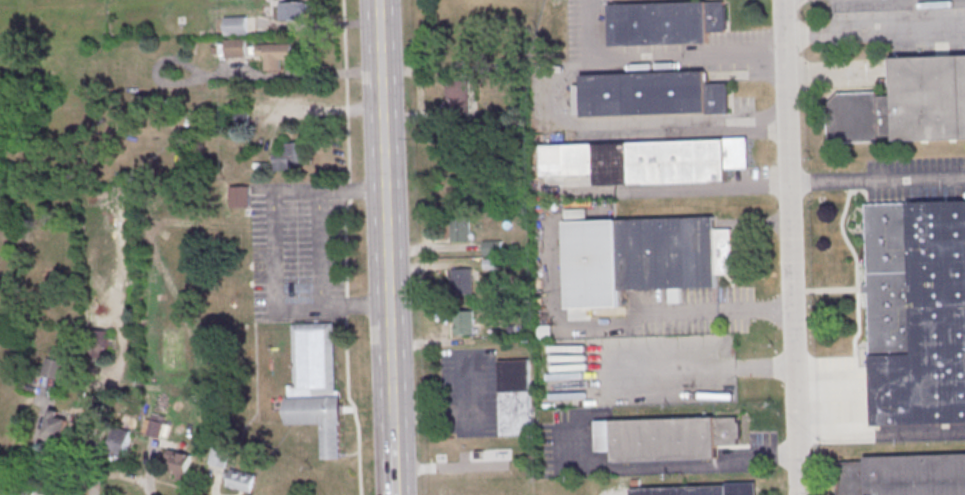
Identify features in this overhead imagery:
parking lot: (890, 4)
building: (293, 10)
building: (664, 22)
building: (235, 24)
road: (874, 32)
building: (236, 47)
building: (273, 54)
road: (656, 61)
building: (651, 94)
building: (457, 98)
building: (905, 104)
road: (381, 125)
road: (621, 127)
building: (290, 155)
building: (646, 160)
road: (877, 180)
road: (692, 189)
road: (328, 190)
building: (239, 197)
building: (459, 229)
road: (790, 247)
road: (273, 248)
road: (347, 248)
building: (492, 248)
building: (642, 256)
building: (490, 264)
building: (461, 282)
road: (330, 304)
building: (916, 310)
road: (627, 321)
building: (464, 323)
road: (388, 330)
building: (98, 343)
building: (53, 368)
building: (316, 383)
building: (514, 398)
road: (458, 419)
building: (56, 425)
road: (391, 425)
building: (155, 429)
road: (37, 436)
road: (860, 436)
building: (672, 438)
building: (119, 442)
building: (219, 455)
building: (180, 462)
road: (644, 465)
road: (150, 466)
road: (393, 467)
building: (904, 475)
building: (241, 479)
road: (215, 480)
building: (702, 489)

